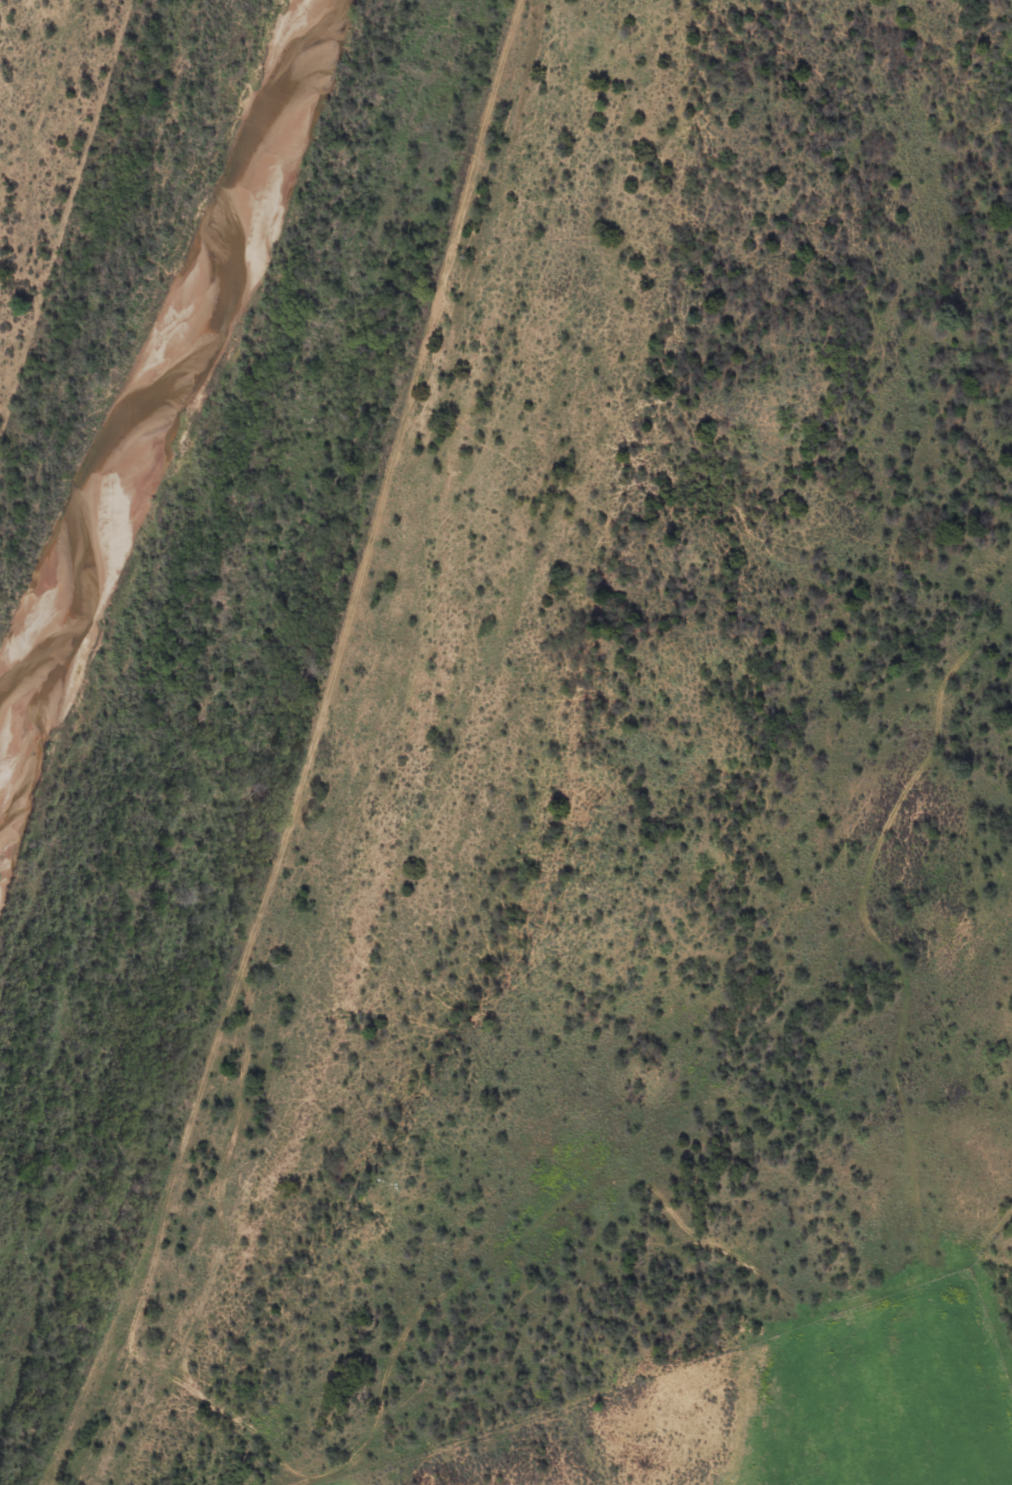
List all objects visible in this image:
river: (319, 10)
river: (158, 423)

